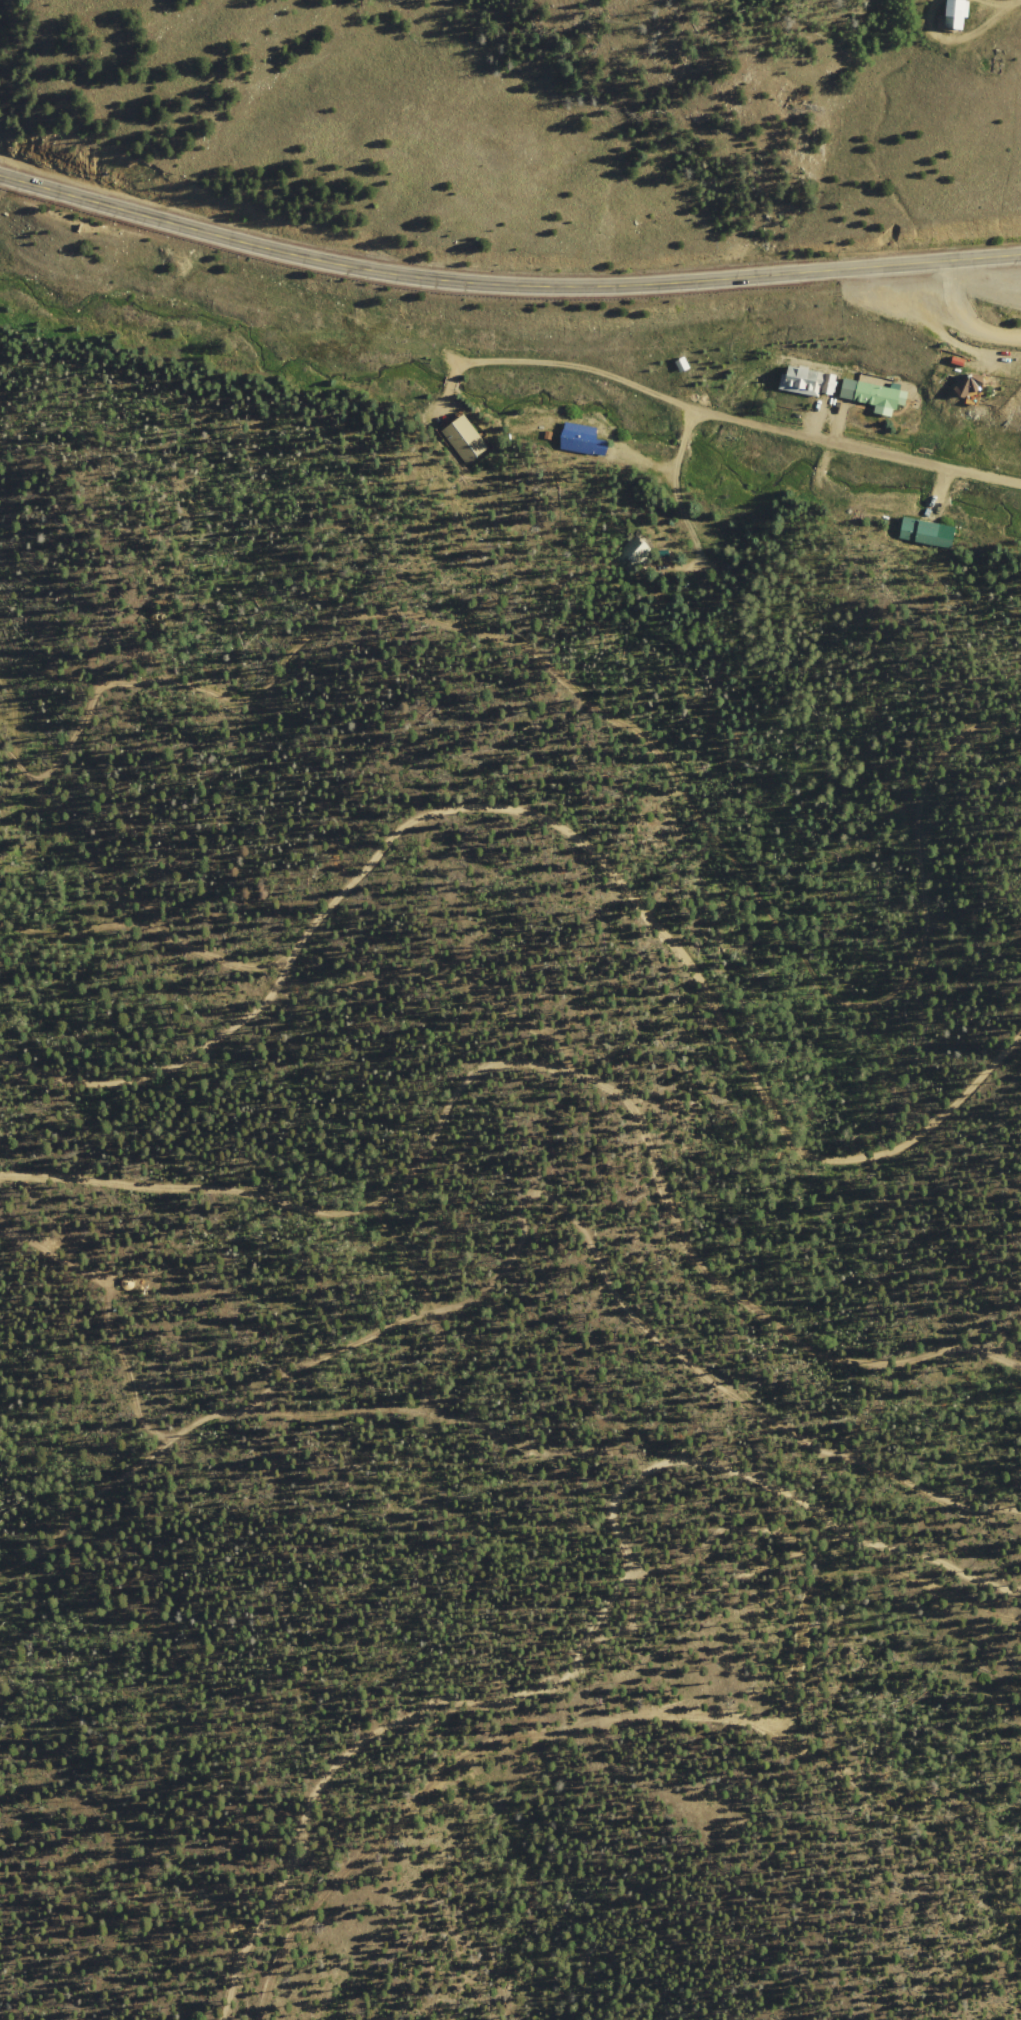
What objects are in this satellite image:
building: (956, 13)
road: (504, 283)
road: (958, 314)
building: (807, 380)
building: (969, 383)
building: (874, 395)
building: (464, 438)
building: (582, 439)
building: (927, 531)
road: (602, 694)
road: (352, 885)
road: (140, 906)
road: (74, 938)
park: (487, 1062)
road: (847, 1148)
road: (364, 1196)
road: (113, 1306)
road: (777, 1321)
road: (692, 1353)
road: (228, 1409)
road: (399, 1420)
road: (778, 1524)
road: (614, 1708)
road: (258, 1738)

